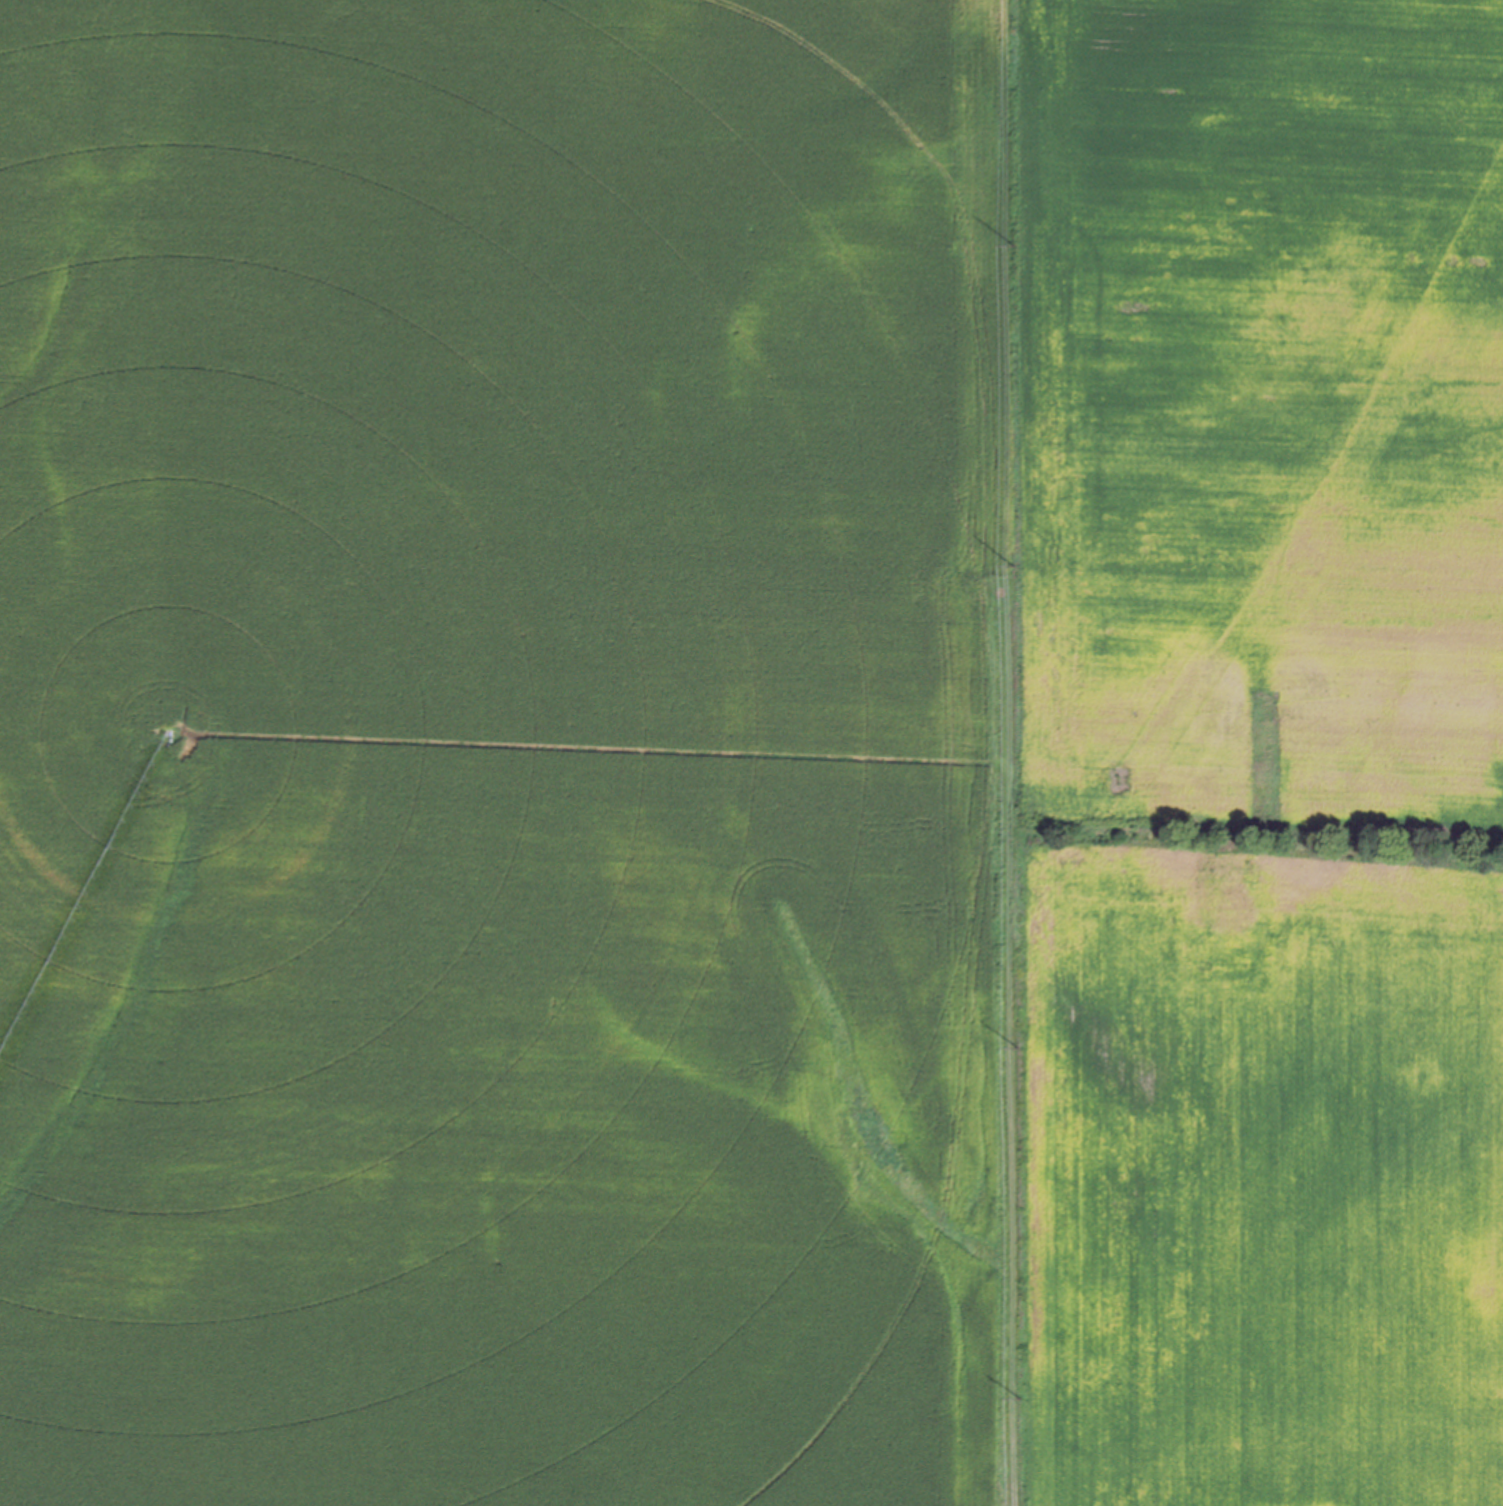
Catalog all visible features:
power tower: (1016, 244)
power tower: (1015, 560)
power tower: (1020, 1046)
power tower: (1020, 1397)

